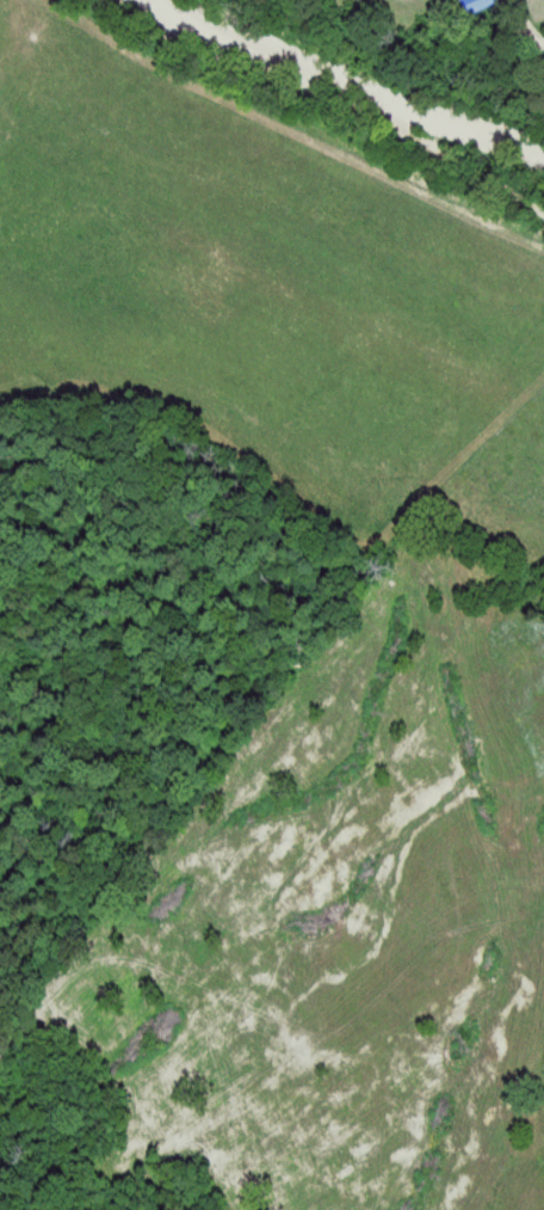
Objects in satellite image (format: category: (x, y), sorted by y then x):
building: (488, 5)
road: (341, 133)

